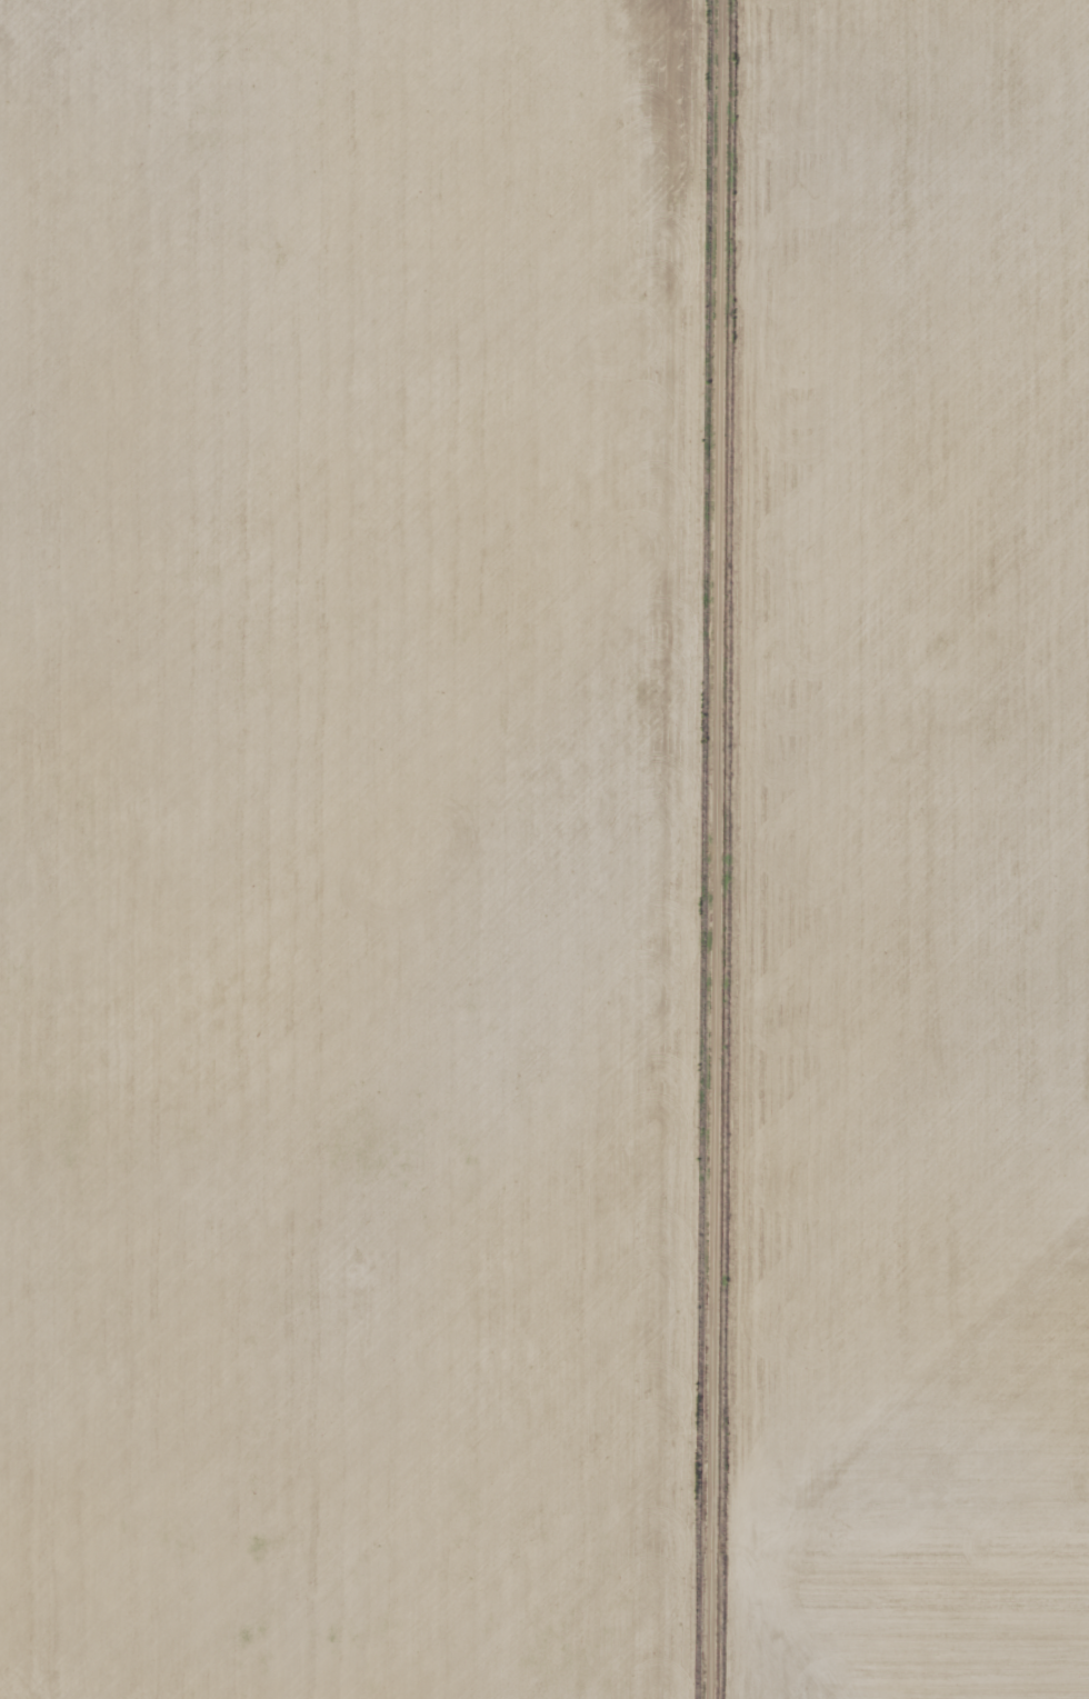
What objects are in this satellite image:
road: (718, 849)

